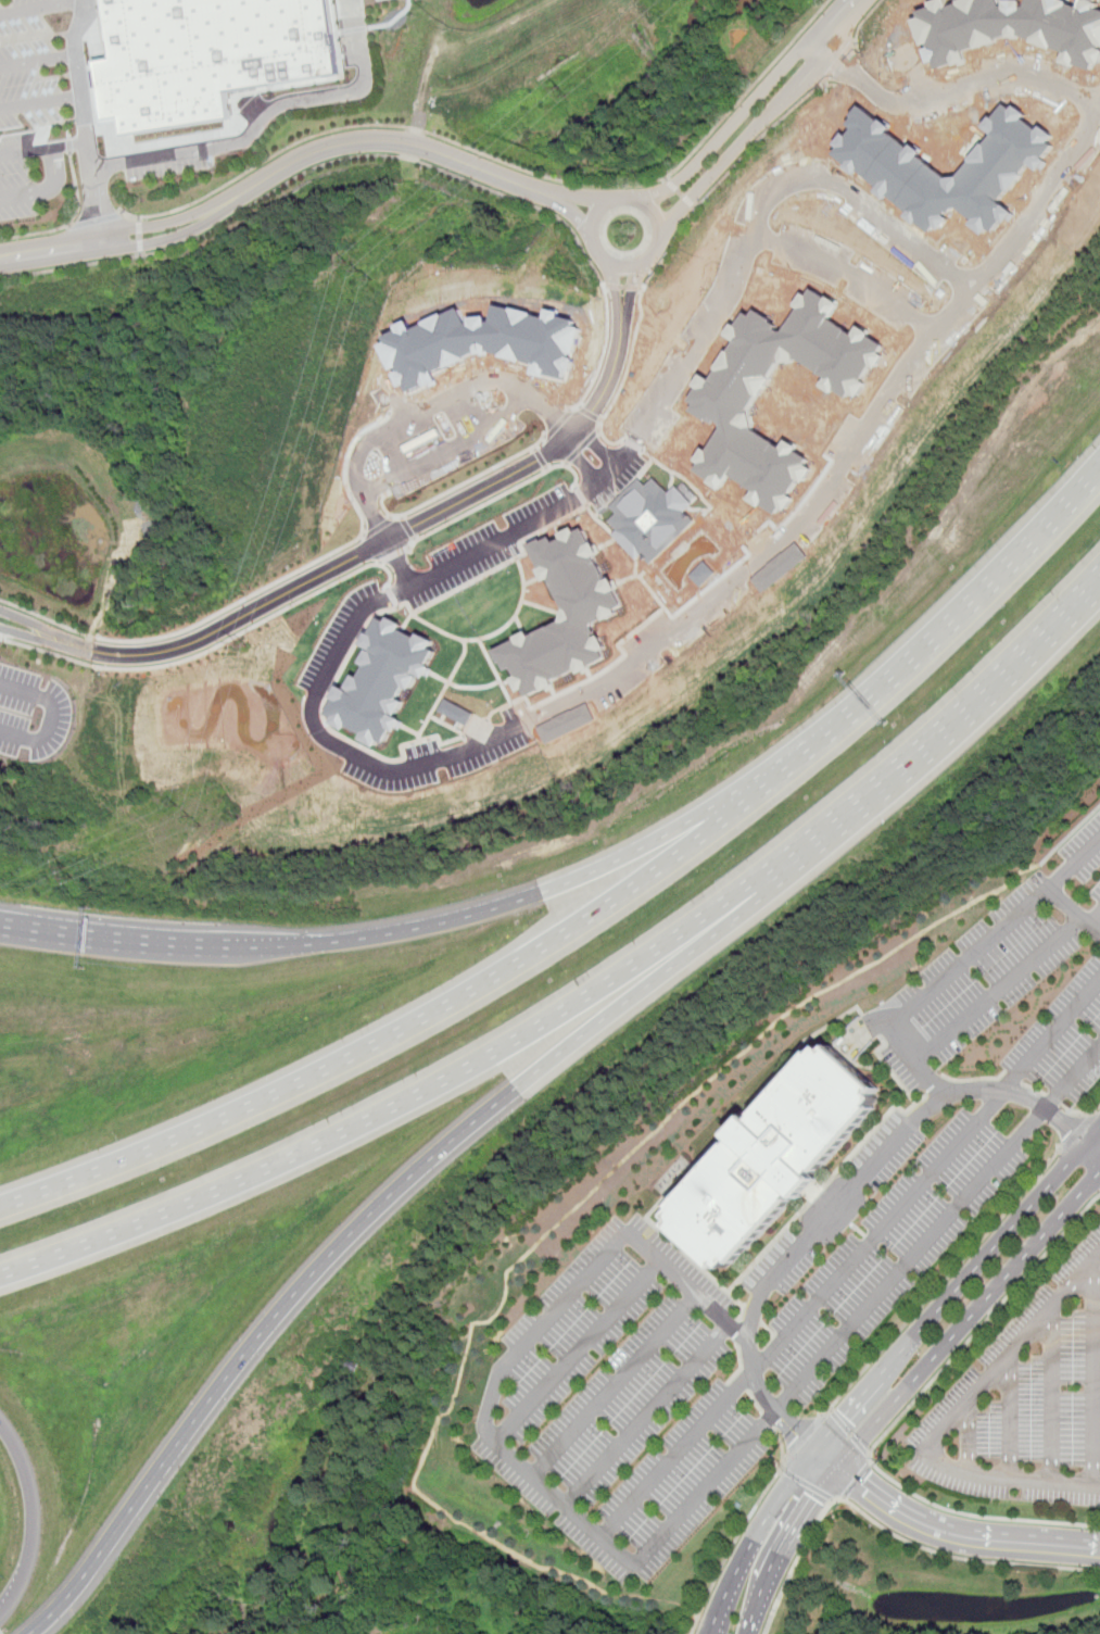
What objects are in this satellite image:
road: (42, 7)
road: (863, 23)
building: (1013, 27)
road: (819, 45)
building: (207, 54)
road: (36, 60)
road: (839, 63)
road: (840, 63)
road: (974, 84)
power tower: (560, 91)
parking lot: (43, 98)
road: (40, 101)
road: (749, 106)
road: (267, 108)
road: (767, 115)
road: (85, 124)
park: (952, 126)
road: (69, 129)
road: (761, 135)
road: (394, 141)
road: (71, 142)
road: (71, 143)
road: (26, 148)
parking lot: (173, 160)
road: (503, 160)
road: (317, 166)
building: (892, 166)
road: (58, 171)
road: (682, 192)
road: (24, 198)
road: (589, 201)
road: (1040, 201)
road: (581, 216)
road: (99, 221)
road: (73, 224)
road: (116, 231)
road: (143, 236)
park: (854, 239)
road: (121, 248)
road: (671, 250)
road: (627, 266)
power tower: (359, 272)
road: (848, 272)
road: (624, 287)
road: (616, 288)
road: (635, 288)
building: (488, 345)
road: (605, 353)
road: (625, 378)
building: (728, 405)
road: (428, 411)
road: (558, 424)
road: (581, 448)
road: (450, 449)
road: (591, 455)
road: (457, 487)
road: (498, 495)
building: (647, 516)
road: (380, 526)
road: (396, 554)
road: (354, 558)
road: (401, 563)
road: (236, 606)
building: (565, 613)
road: (46, 618)
road: (938, 631)
power tower: (242, 643)
road: (208, 650)
road: (329, 673)
building: (384, 681)
parking lot: (33, 714)
road: (54, 717)
road: (940, 725)
power tower: (189, 813)
power tower: (72, 869)
road: (552, 885)
road: (1075, 907)
road: (162, 944)
road: (650, 985)
parking lot: (1012, 990)
road: (887, 1021)
road: (401, 1032)
road: (931, 1077)
road: (401, 1105)
road: (1095, 1111)
road: (1074, 1133)
road: (1096, 1141)
building: (772, 1158)
road: (843, 1196)
parking lot: (873, 1240)
road: (850, 1258)
road: (940, 1285)
road: (954, 1289)
road: (867, 1304)
road: (968, 1319)
road: (531, 1334)
road: (260, 1346)
road: (577, 1352)
road: (1093, 1375)
road: (612, 1385)
road: (1052, 1395)
parking lot: (624, 1400)
parking lot: (1028, 1400)
road: (644, 1415)
road: (1012, 1418)
road: (898, 1419)
road: (952, 1419)
road: (848, 1433)
road: (969, 1437)
road: (802, 1438)
road: (823, 1460)
road: (857, 1480)
road: (807, 1485)
road: (40, 1512)
road: (743, 1529)
road: (889, 1532)
road: (959, 1534)
road: (755, 1538)
road: (788, 1548)

